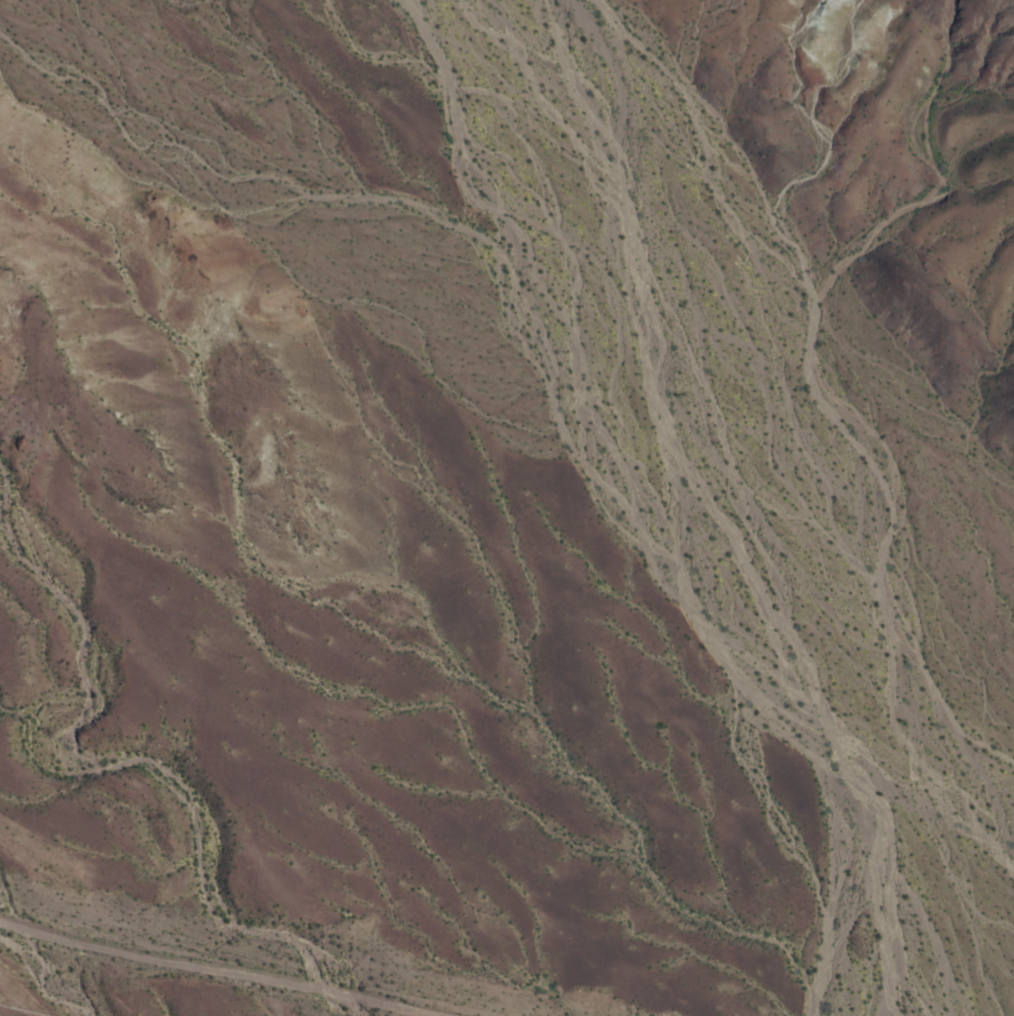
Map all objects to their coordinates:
road: (233, 962)

